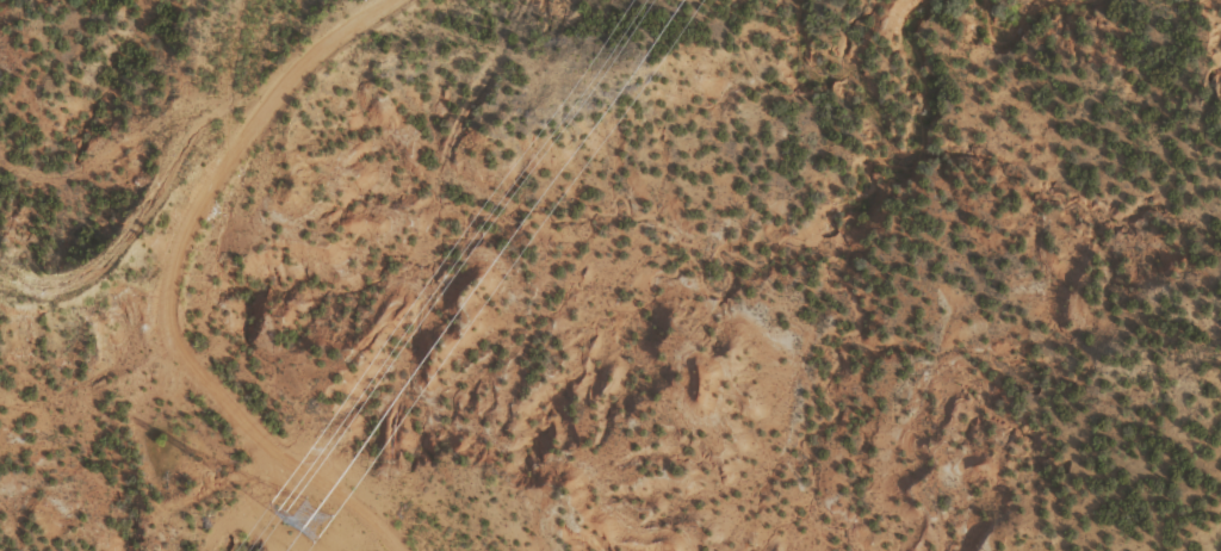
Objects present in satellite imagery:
road: (281, 252)
road: (274, 453)
power tower: (305, 520)

